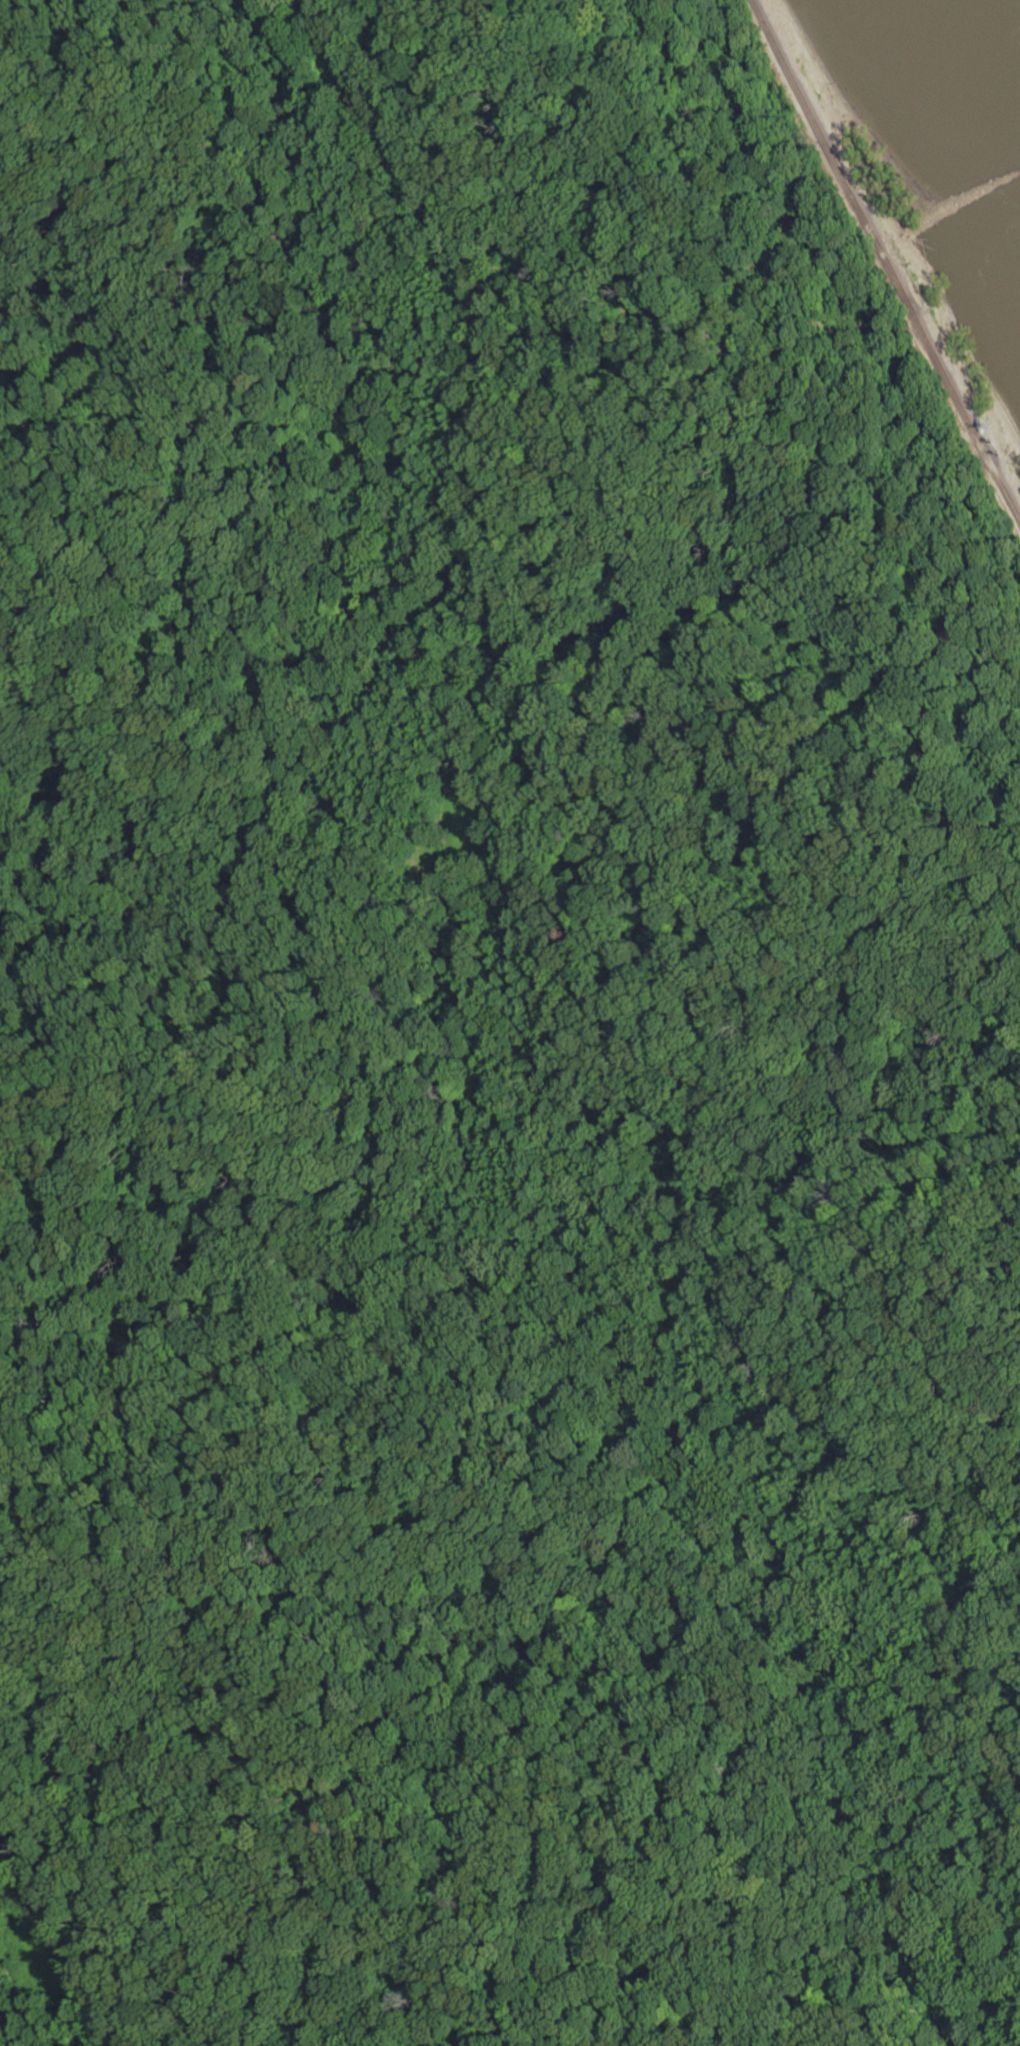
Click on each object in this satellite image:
railway: (885, 240)

